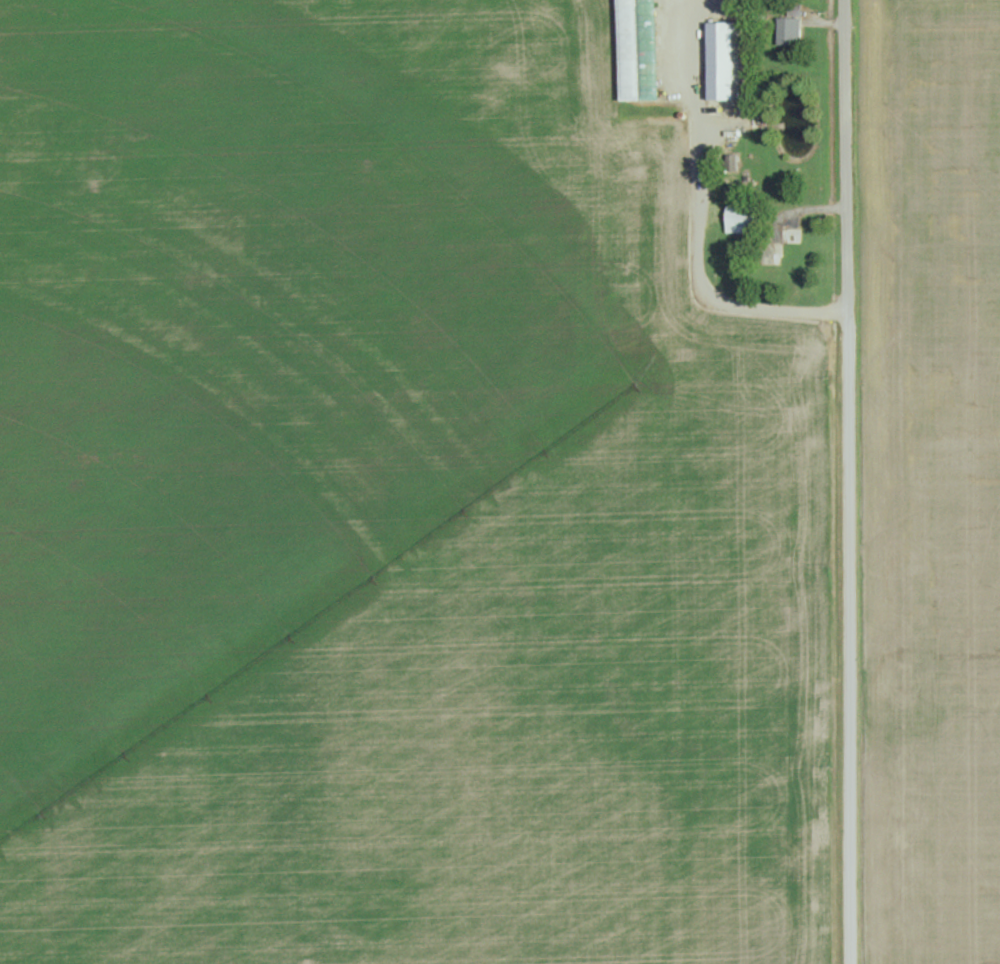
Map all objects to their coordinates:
building: (795, 10)
building: (790, 31)
building: (639, 51)
building: (724, 62)
building: (734, 165)
building: (717, 214)
building: (743, 219)
building: (792, 236)
building: (789, 259)
road: (847, 482)

